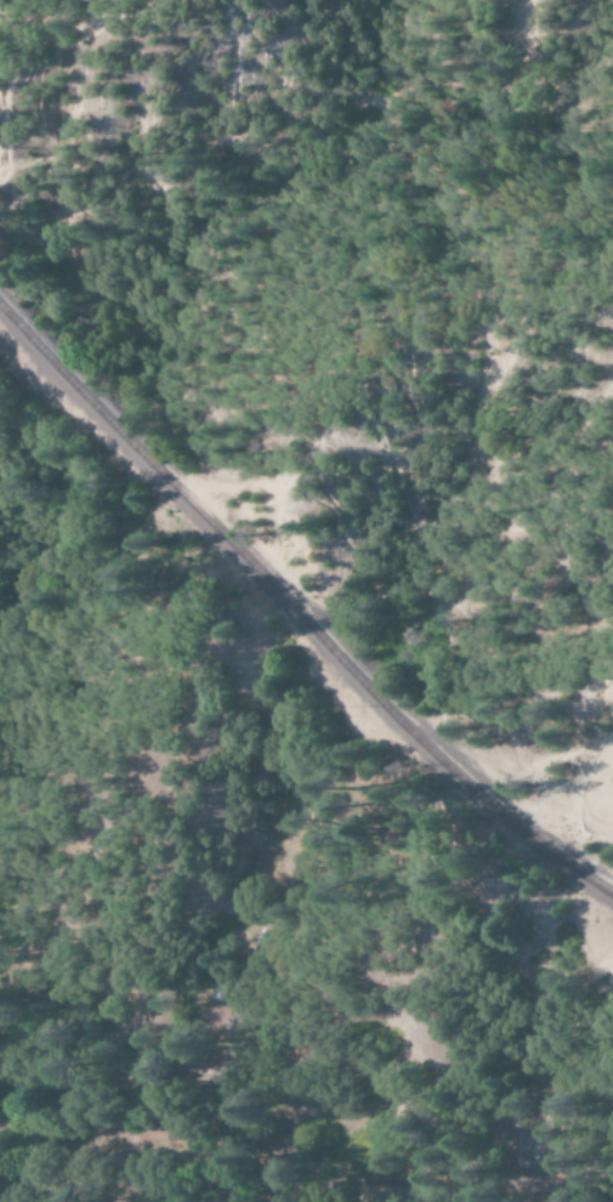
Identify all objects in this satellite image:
railway: (295, 612)

